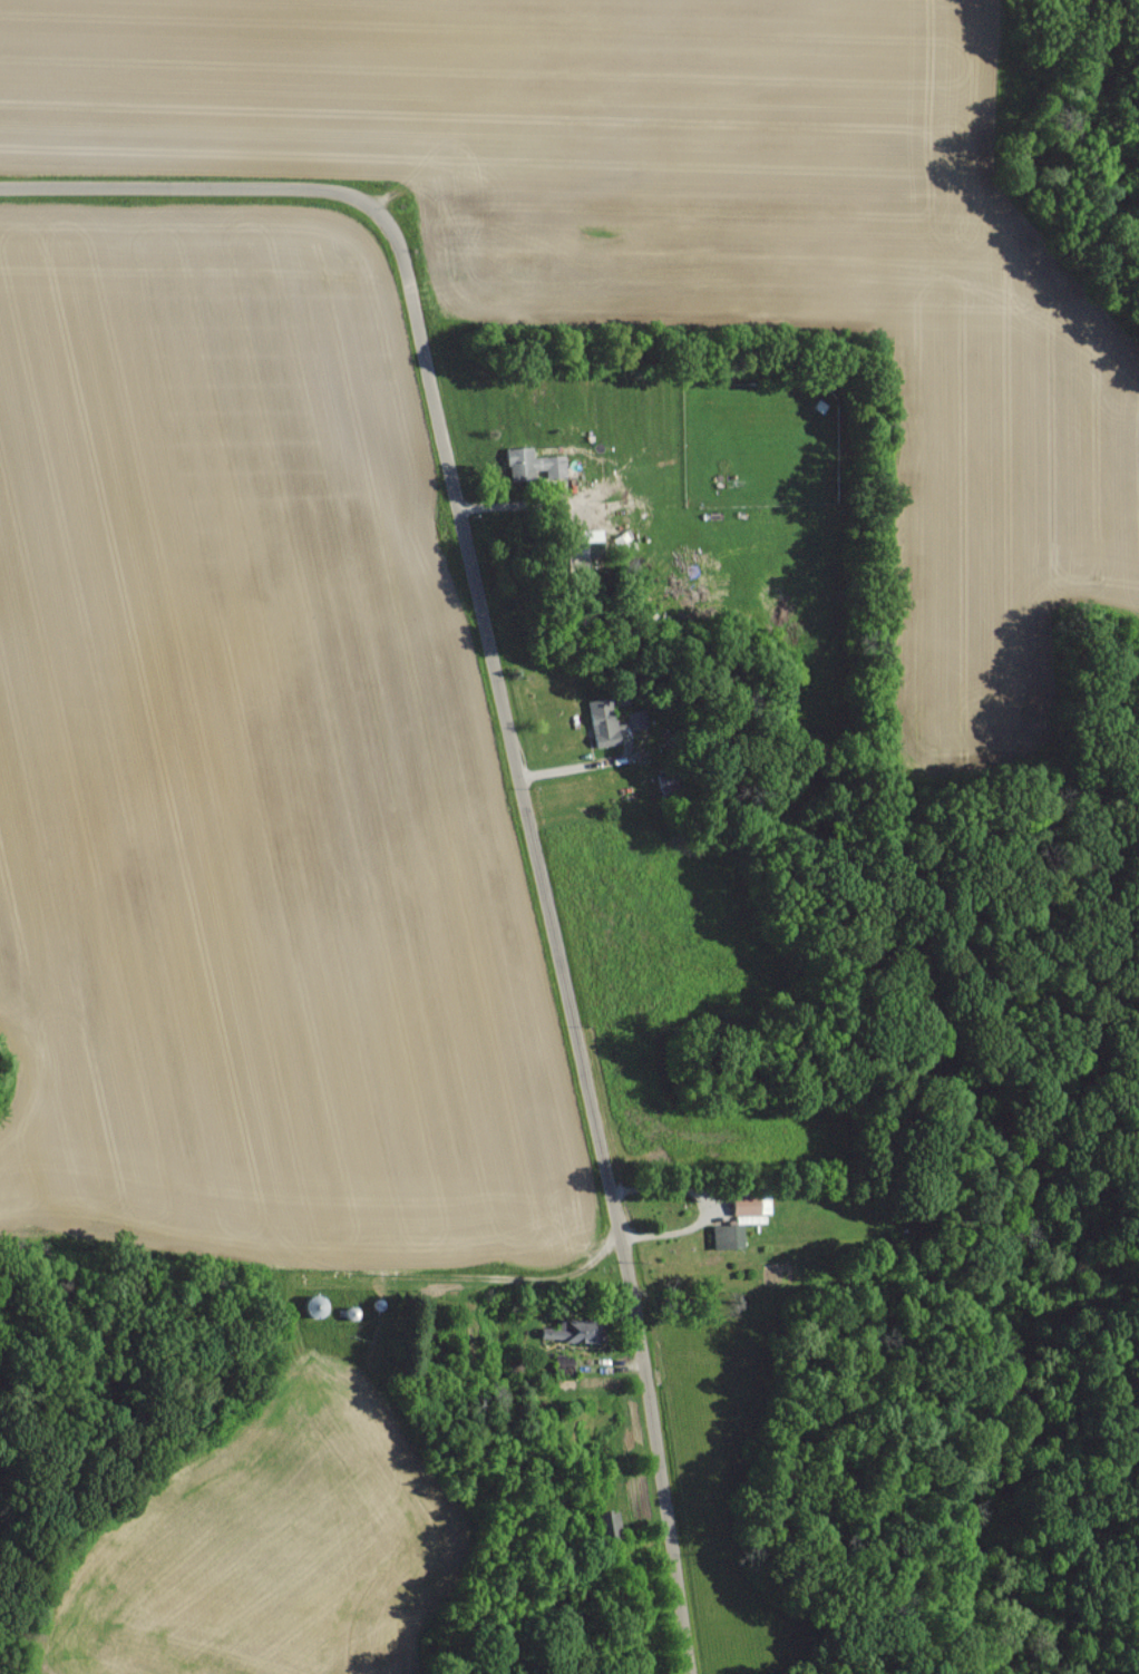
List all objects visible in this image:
road: (201, 212)
building: (534, 463)
road: (497, 503)
building: (603, 721)
building: (636, 721)
road: (568, 767)
building: (669, 779)
road: (545, 965)
road: (705, 1201)
building: (750, 1207)
building: (574, 1329)

